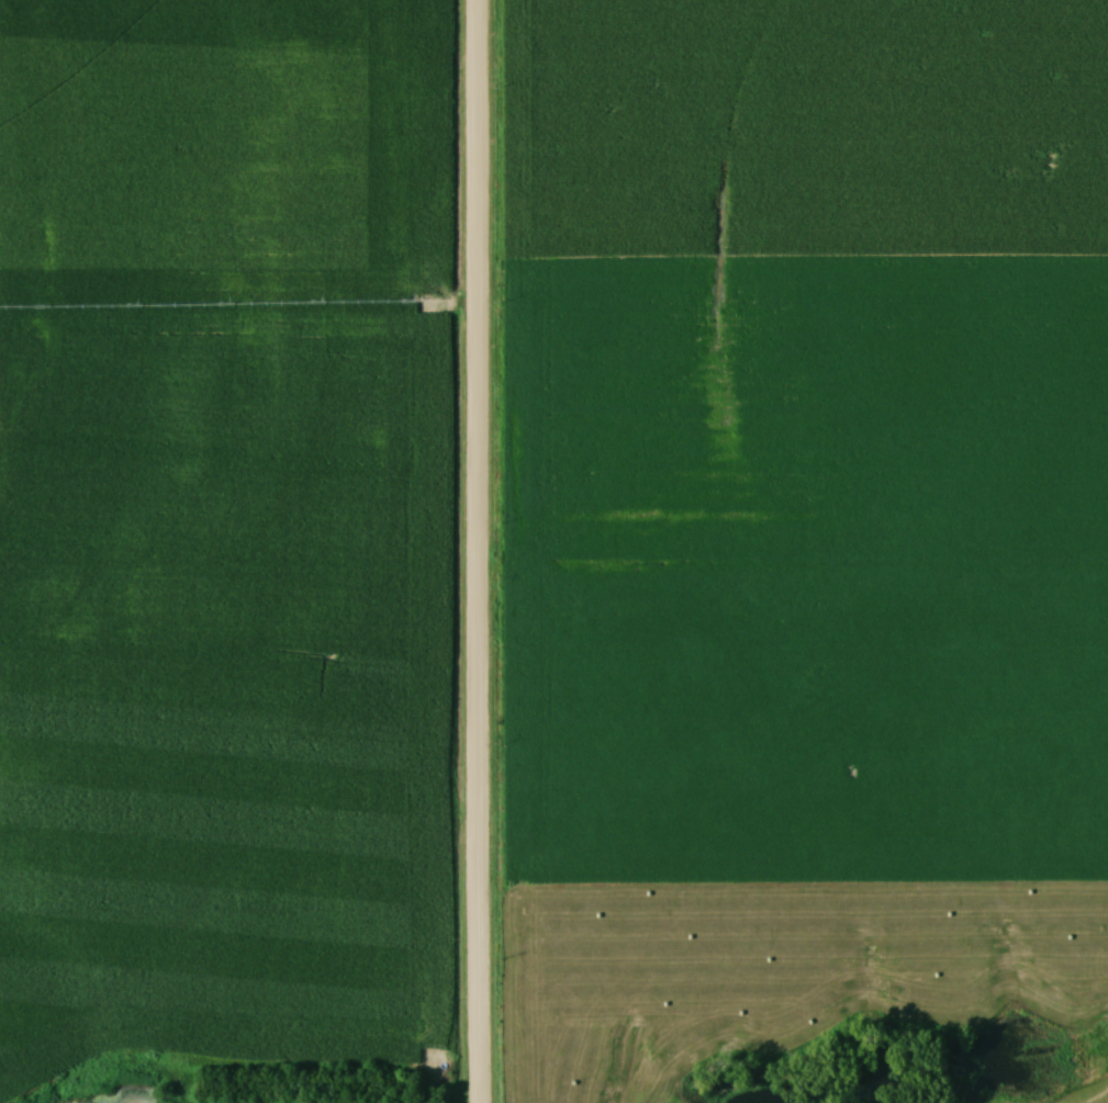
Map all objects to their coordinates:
road: (474, 551)

